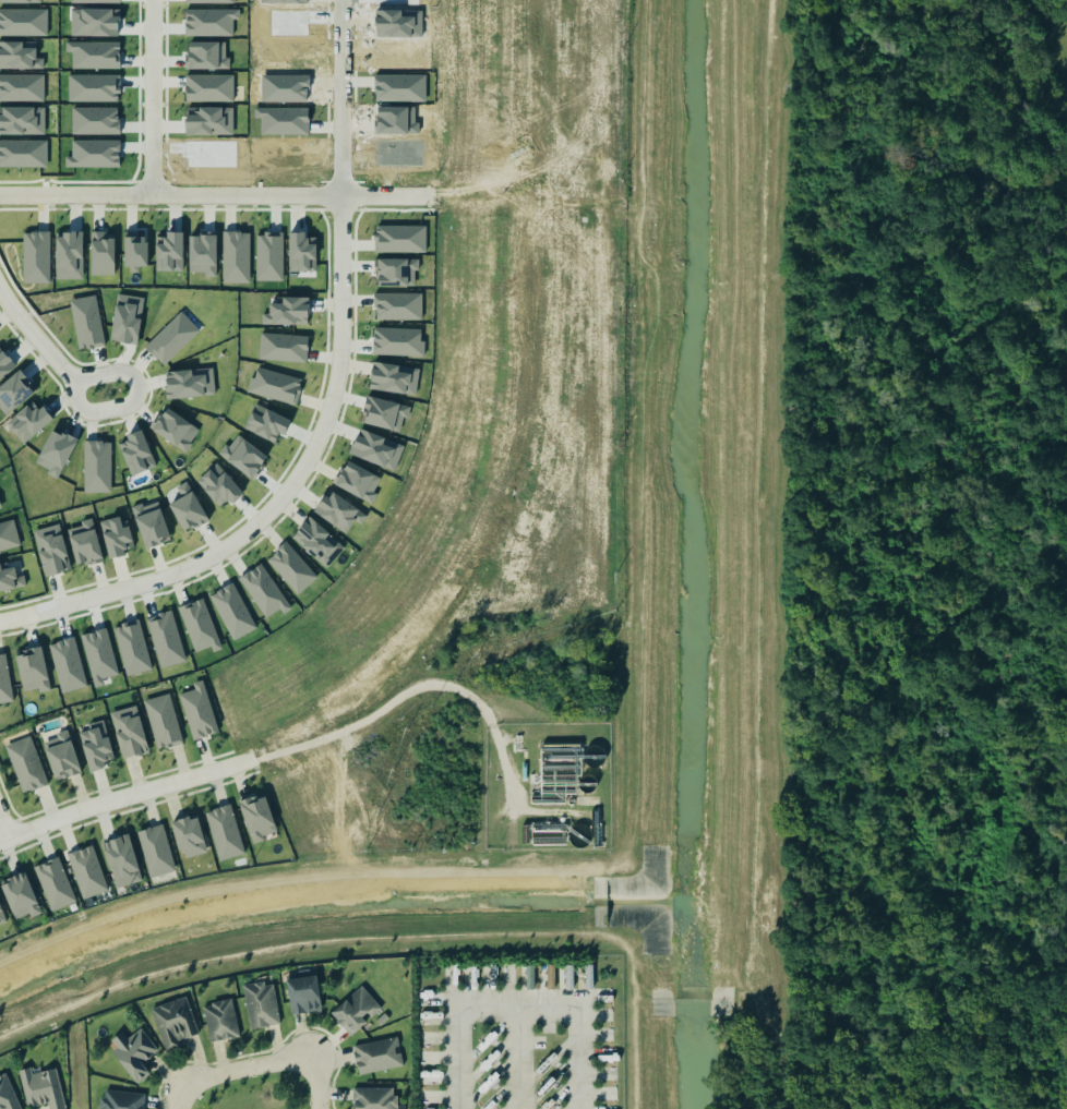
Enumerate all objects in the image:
building: (209, 21)
building: (23, 22)
building: (94, 22)
building: (226, 50)
building: (19, 55)
building: (202, 55)
building: (22, 87)
building: (93, 87)
building: (208, 87)
road: (343, 96)
road: (152, 97)
building: (22, 120)
building: (95, 120)
building: (208, 120)
building: (23, 153)
building: (94, 153)
road: (168, 195)
building: (399, 238)
building: (134, 251)
building: (169, 251)
building: (101, 253)
building: (301, 253)
building: (202, 254)
building: (69, 255)
building: (35, 256)
building: (236, 256)
building: (268, 256)
building: (397, 272)
building: (397, 305)
building: (287, 311)
building: (127, 317)
building: (86, 322)
building: (171, 338)
building: (397, 341)
building: (283, 347)
road: (55, 349)
building: (4, 363)
building: (394, 377)
building: (190, 383)
building: (275, 385)
building: (14, 391)
building: (383, 412)
building: (28, 421)
building: (266, 423)
building: (172, 429)
building: (376, 448)
building: (56, 451)
building: (136, 453)
building: (248, 457)
road: (305, 461)
building: (96, 466)
building: (359, 481)
building: (219, 485)
building: (0, 507)
building: (187, 508)
building: (339, 510)
building: (151, 525)
building: (8, 535)
building: (117, 537)
building: (317, 541)
building: (85, 543)
building: (51, 550)
building: (291, 567)
building: (10, 578)
building: (264, 590)
building: (232, 611)
building: (199, 625)
building: (165, 639)
building: (132, 647)
building: (98, 655)
building: (67, 664)
building: (33, 668)
building: (4, 680)
road: (418, 684)
building: (199, 711)
building: (163, 721)
building: (129, 732)
building: (95, 744)
building: (62, 756)
building: (25, 764)
road: (125, 796)
road: (544, 810)
building: (257, 817)
road: (4, 827)
building: (224, 832)
building: (189, 835)
building: (156, 851)
building: (121, 860)
building: (86, 871)
building: (53, 883)
building: (20, 895)
building: (2, 916)
building: (568, 976)
building: (588, 976)
building: (303, 995)
building: (261, 1004)
road: (518, 1004)
building: (356, 1010)
building: (220, 1020)
building: (173, 1022)
building: (133, 1052)
building: (377, 1054)
road: (518, 1057)
road: (260, 1066)
building: (41, 1088)
building: (7, 1094)
building: (374, 1098)
building: (121, 1099)

